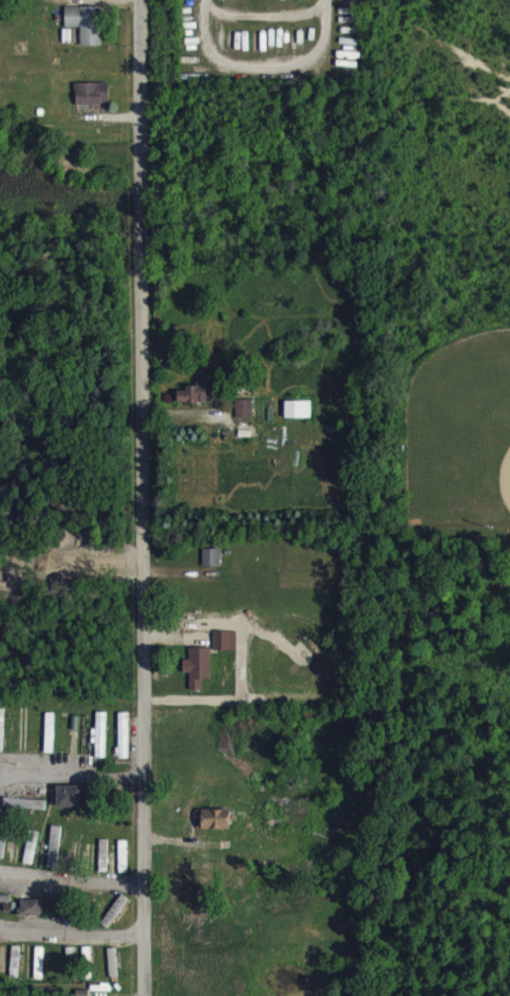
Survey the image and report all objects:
road: (100, 3)
road: (263, 15)
building: (87, 31)
road: (263, 65)
building: (93, 101)
building: (198, 402)
building: (245, 416)
building: (299, 417)
road: (143, 498)
building: (199, 675)
road: (72, 769)
road: (73, 882)
road: (73, 933)

